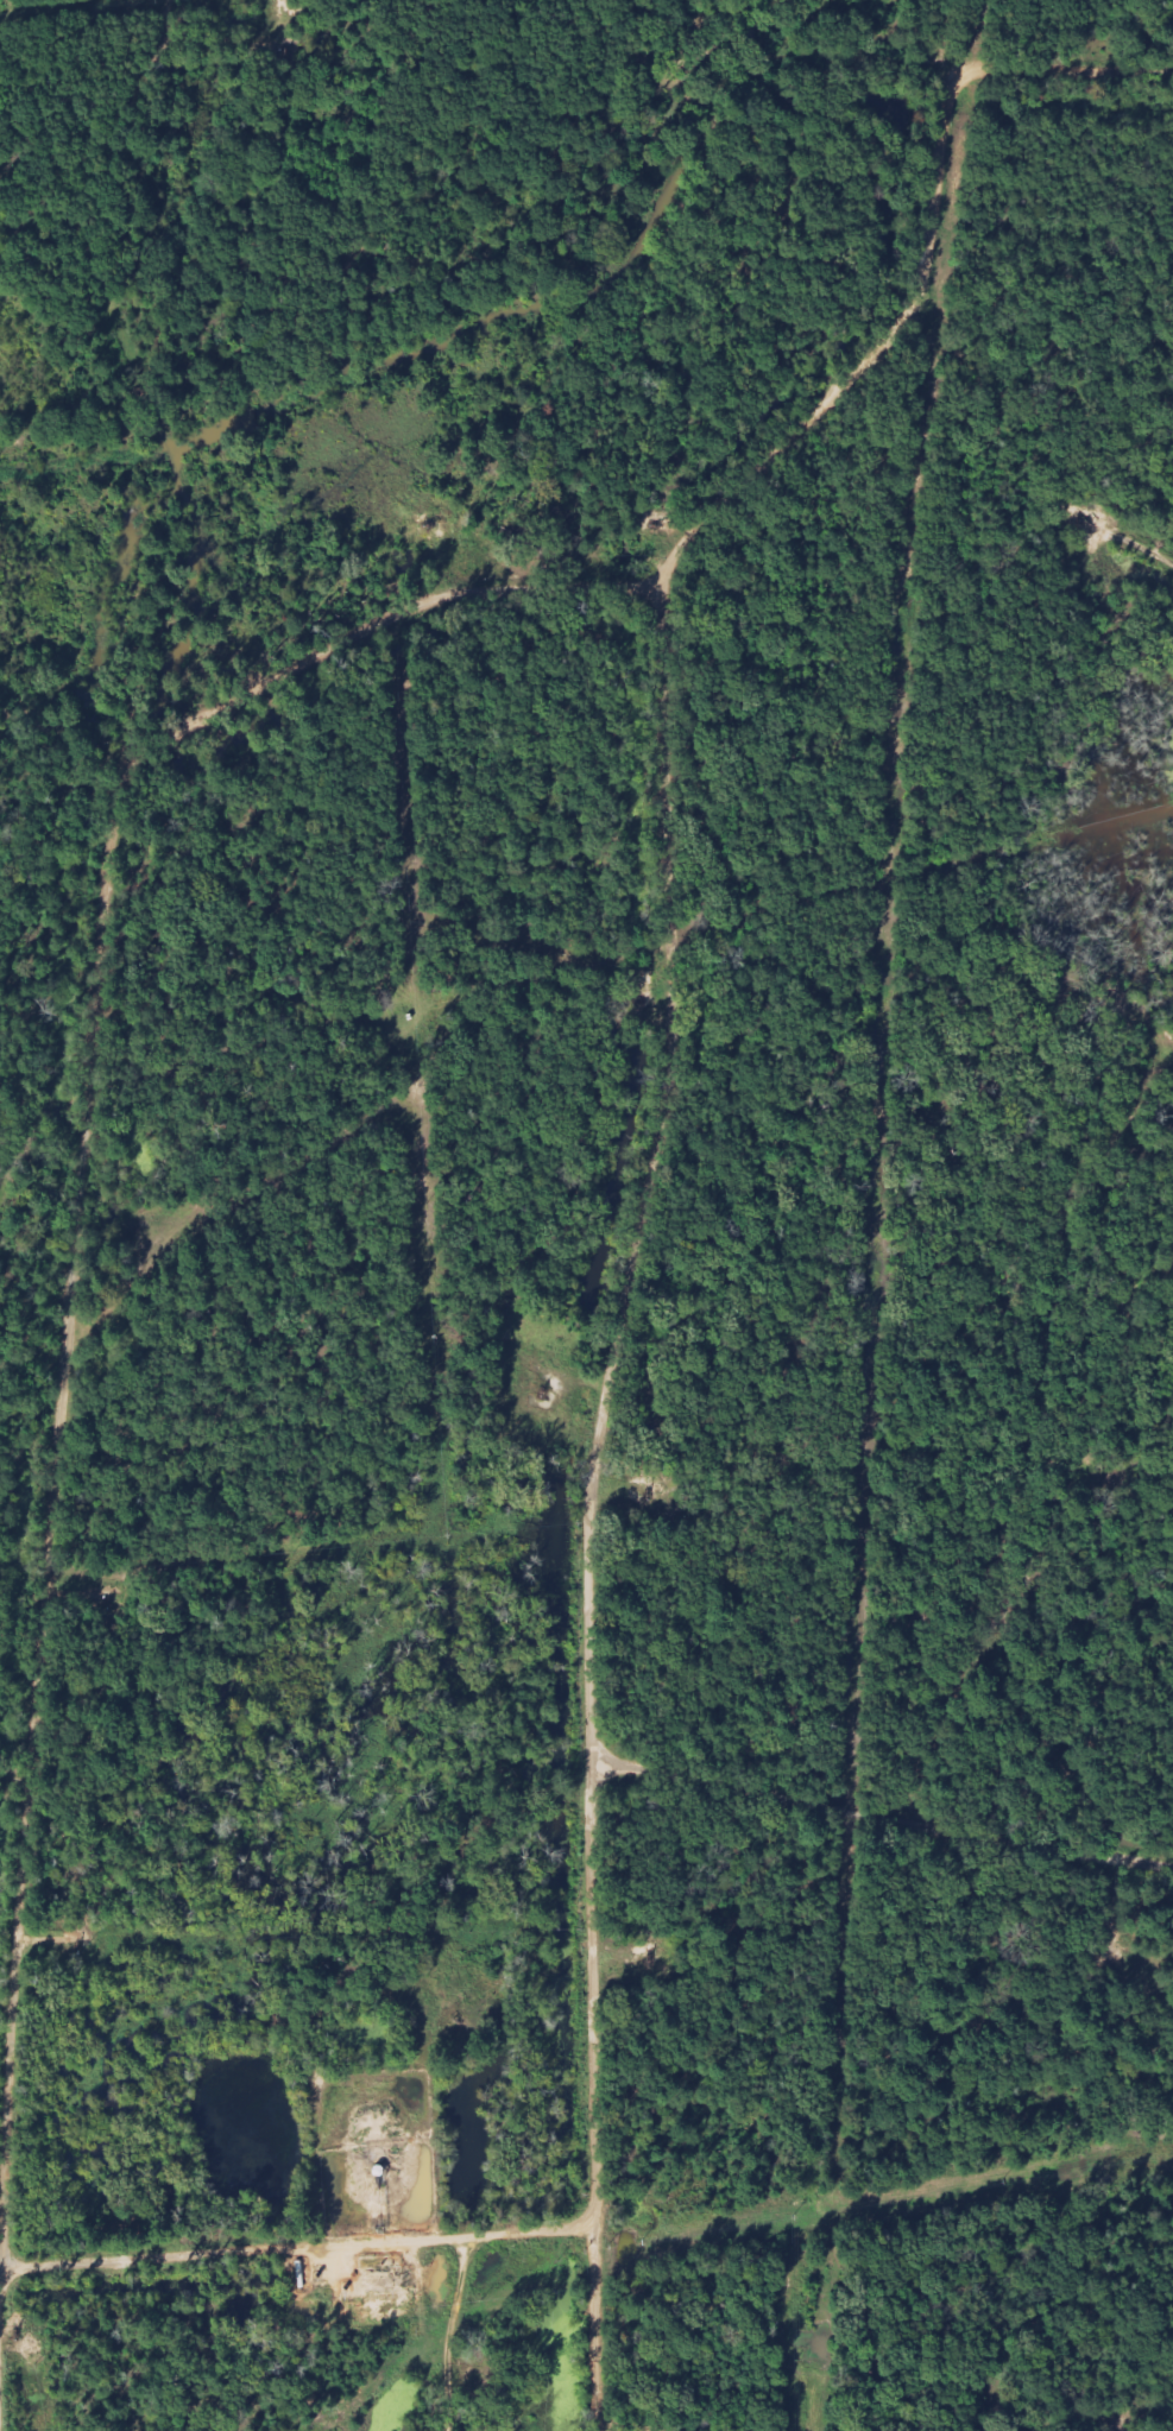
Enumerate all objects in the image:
road: (113, 124)

